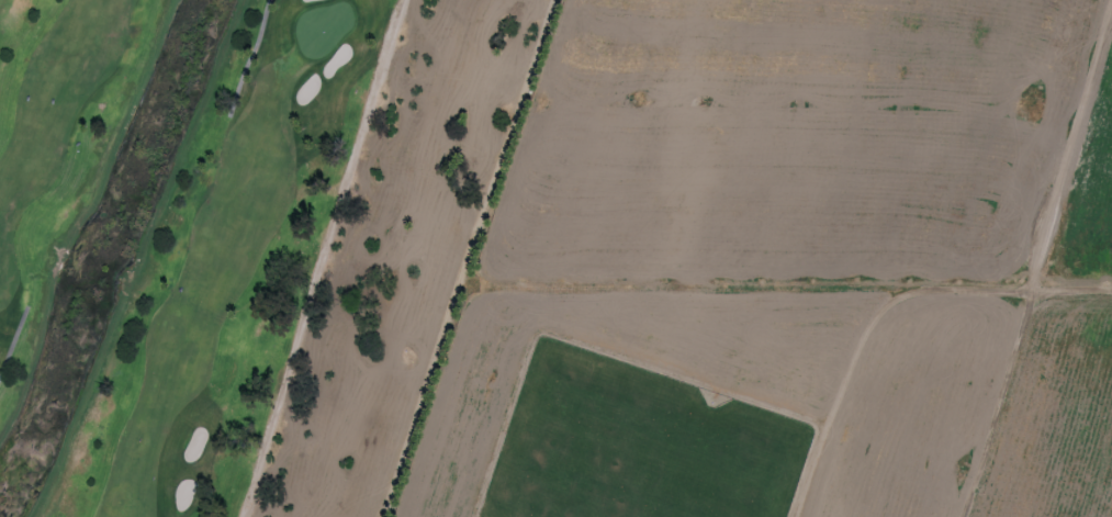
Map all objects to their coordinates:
road: (249, 58)
park: (236, 243)
river: (102, 249)
road: (319, 258)
road: (13, 340)

